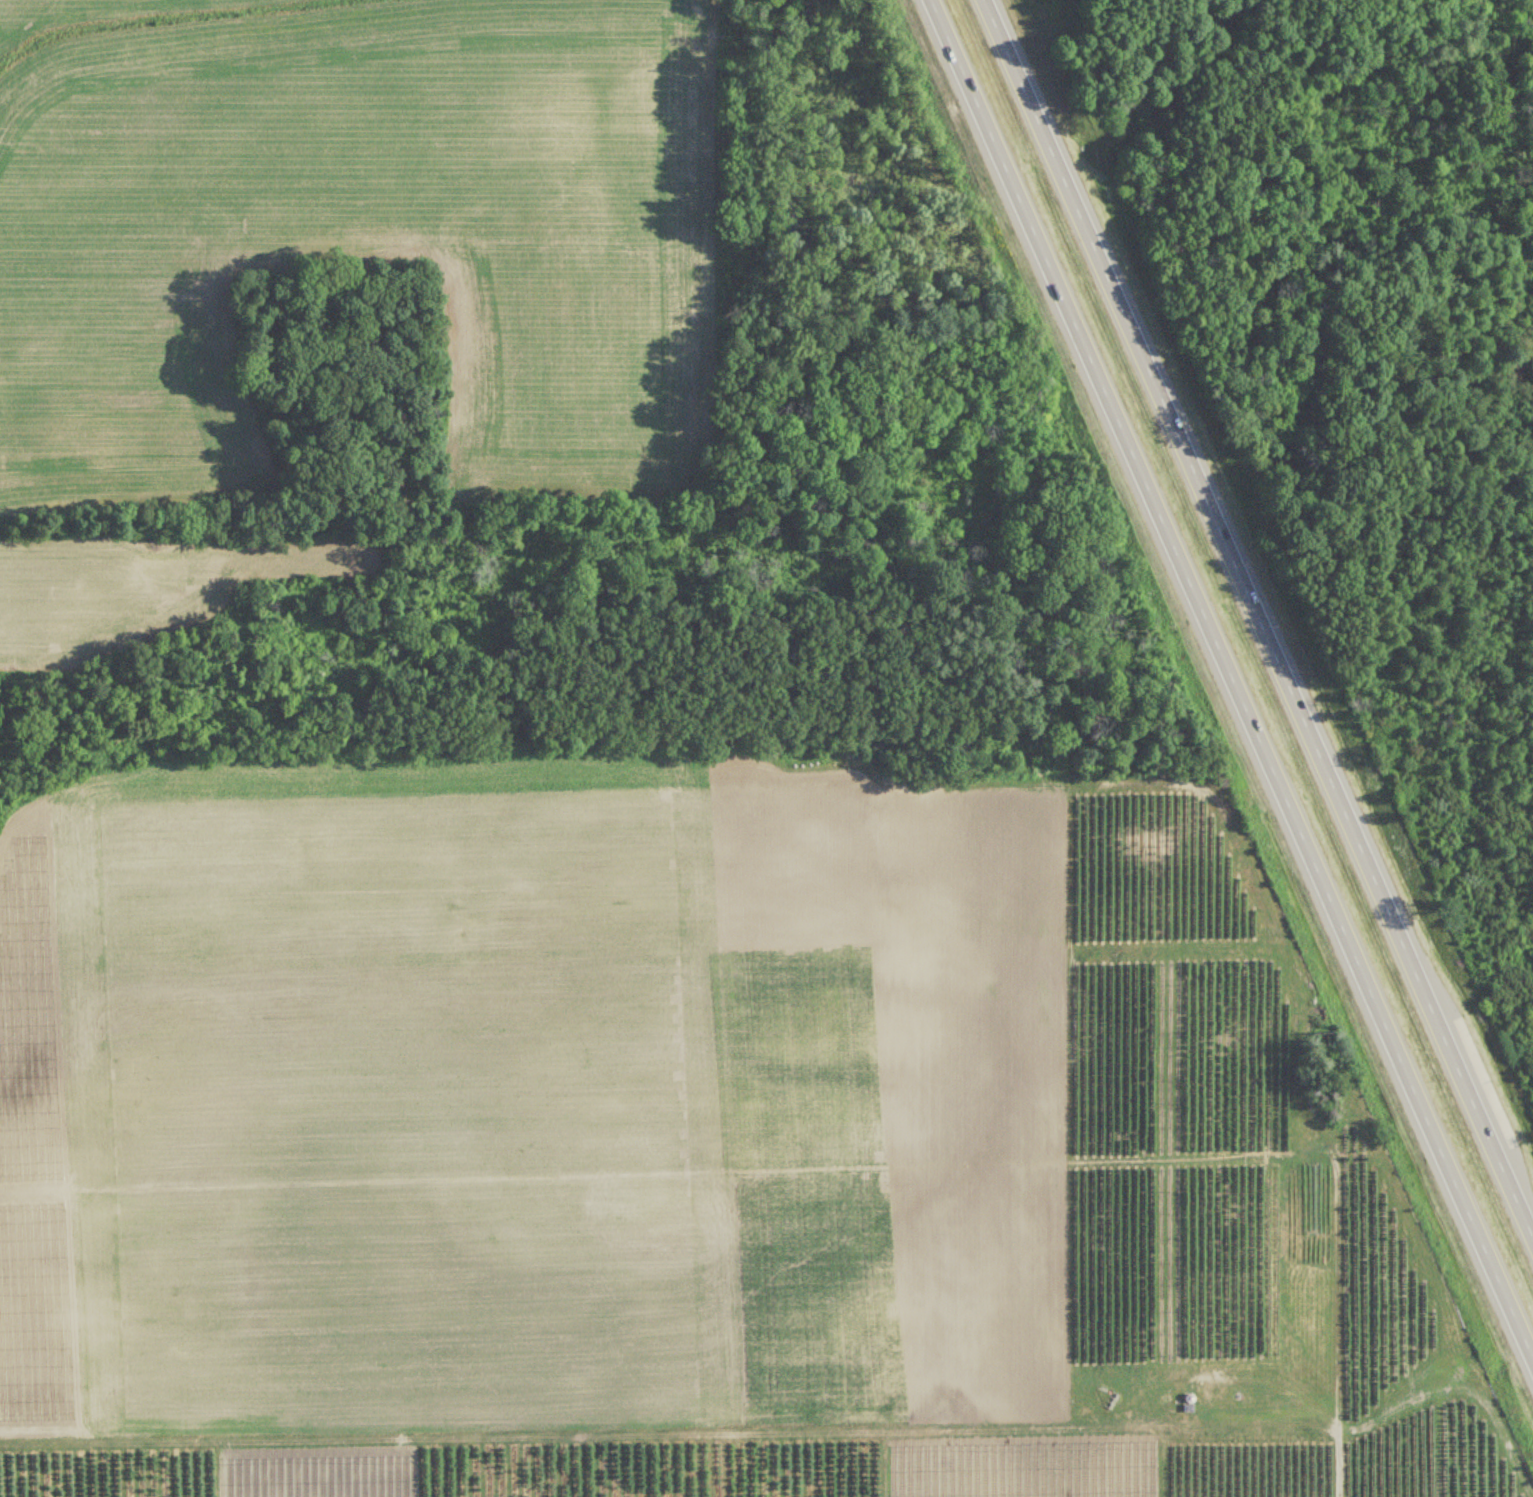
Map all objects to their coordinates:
road: (1257, 621)
road: (1231, 680)

